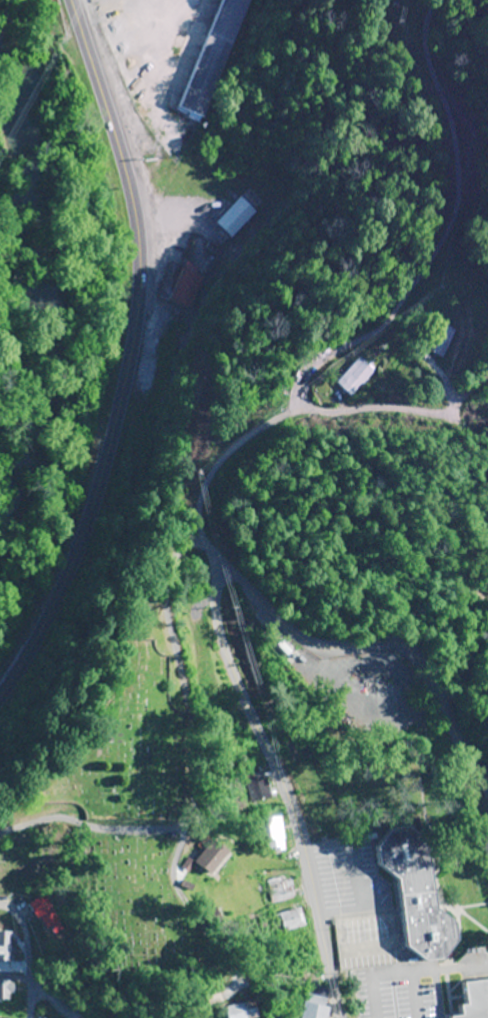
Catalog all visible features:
building: (218, 56)
building: (240, 218)
river: (46, 277)
building: (185, 284)
road: (392, 320)
building: (443, 340)
road: (128, 359)
building: (358, 376)
road: (361, 407)
road: (192, 543)
road: (177, 552)
road: (380, 640)
building: (211, 685)
road: (280, 766)
road: (192, 786)
building: (274, 833)
building: (215, 855)
building: (282, 890)
building: (419, 892)
building: (51, 913)
building: (217, 917)
building: (291, 921)
building: (7, 945)
road: (29, 956)
building: (7, 988)
building: (477, 1000)
building: (317, 1002)
building: (244, 1009)
building: (5, 1017)

